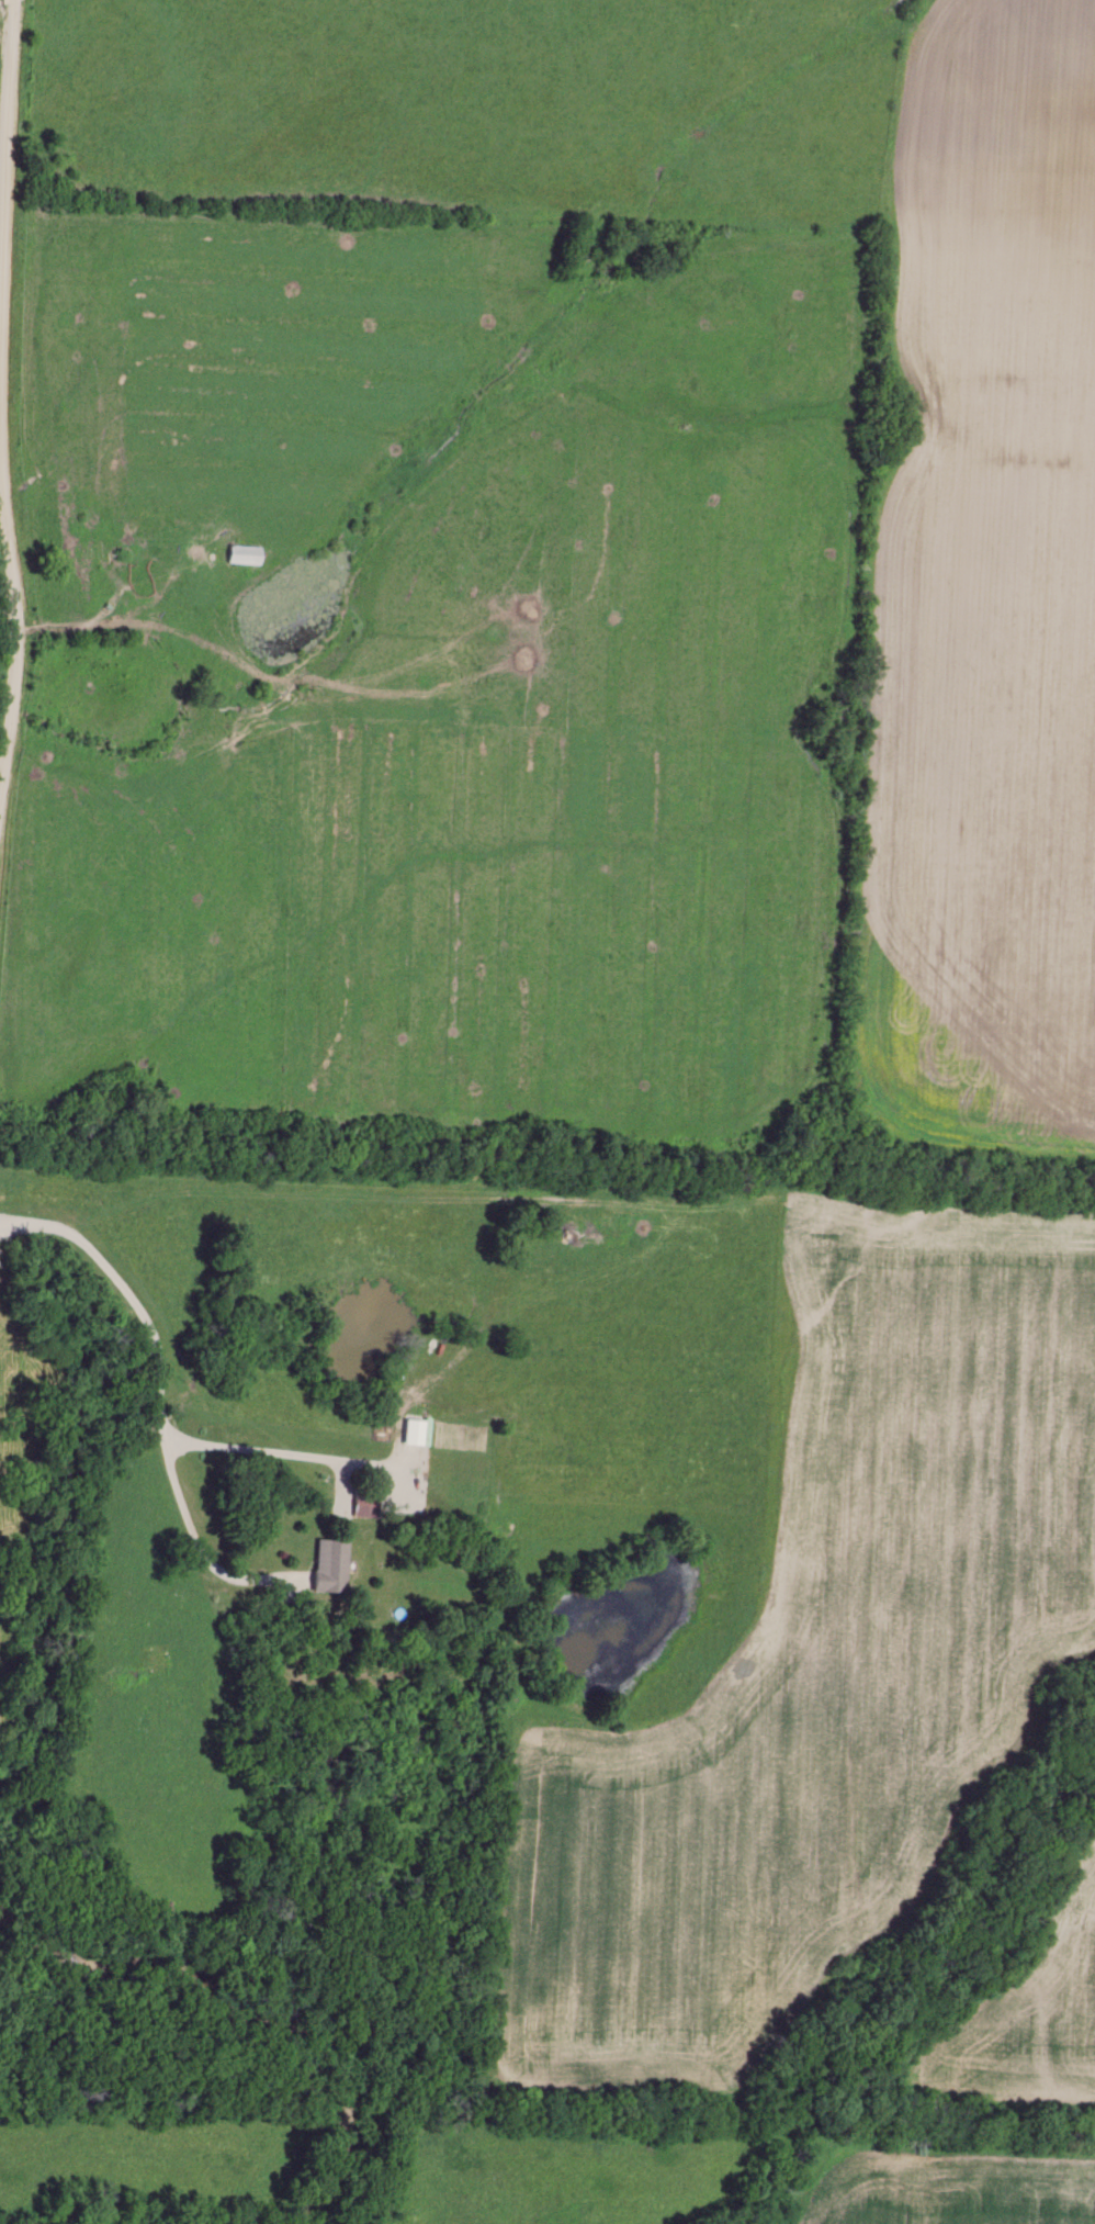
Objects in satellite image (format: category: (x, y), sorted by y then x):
road: (2, 404)
building: (242, 558)
road: (101, 614)
road: (160, 1393)
building: (364, 1505)
road: (191, 1542)
building: (329, 1568)

